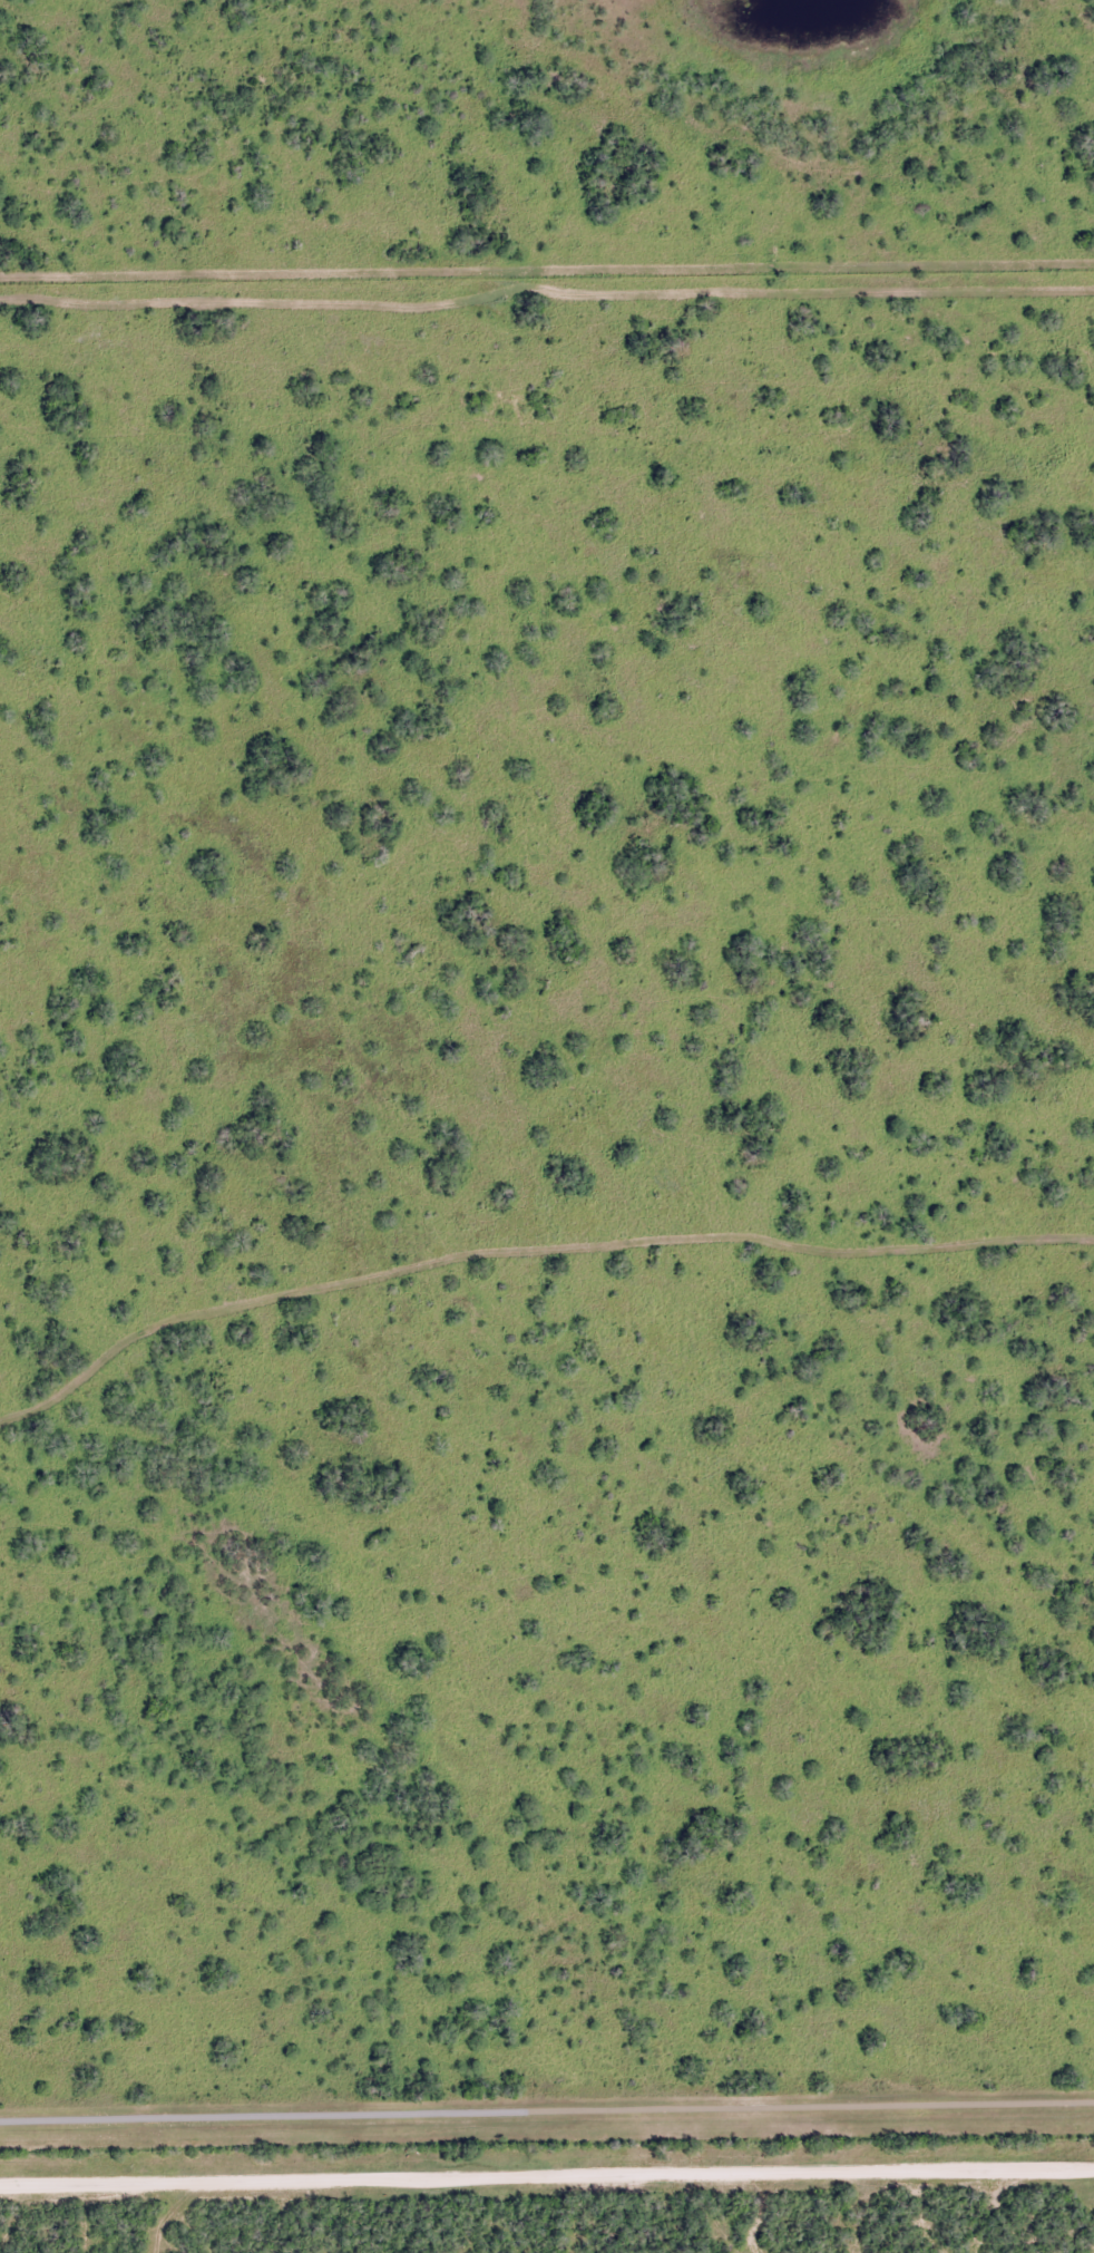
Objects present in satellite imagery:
road: (547, 2124)
road: (546, 2176)

